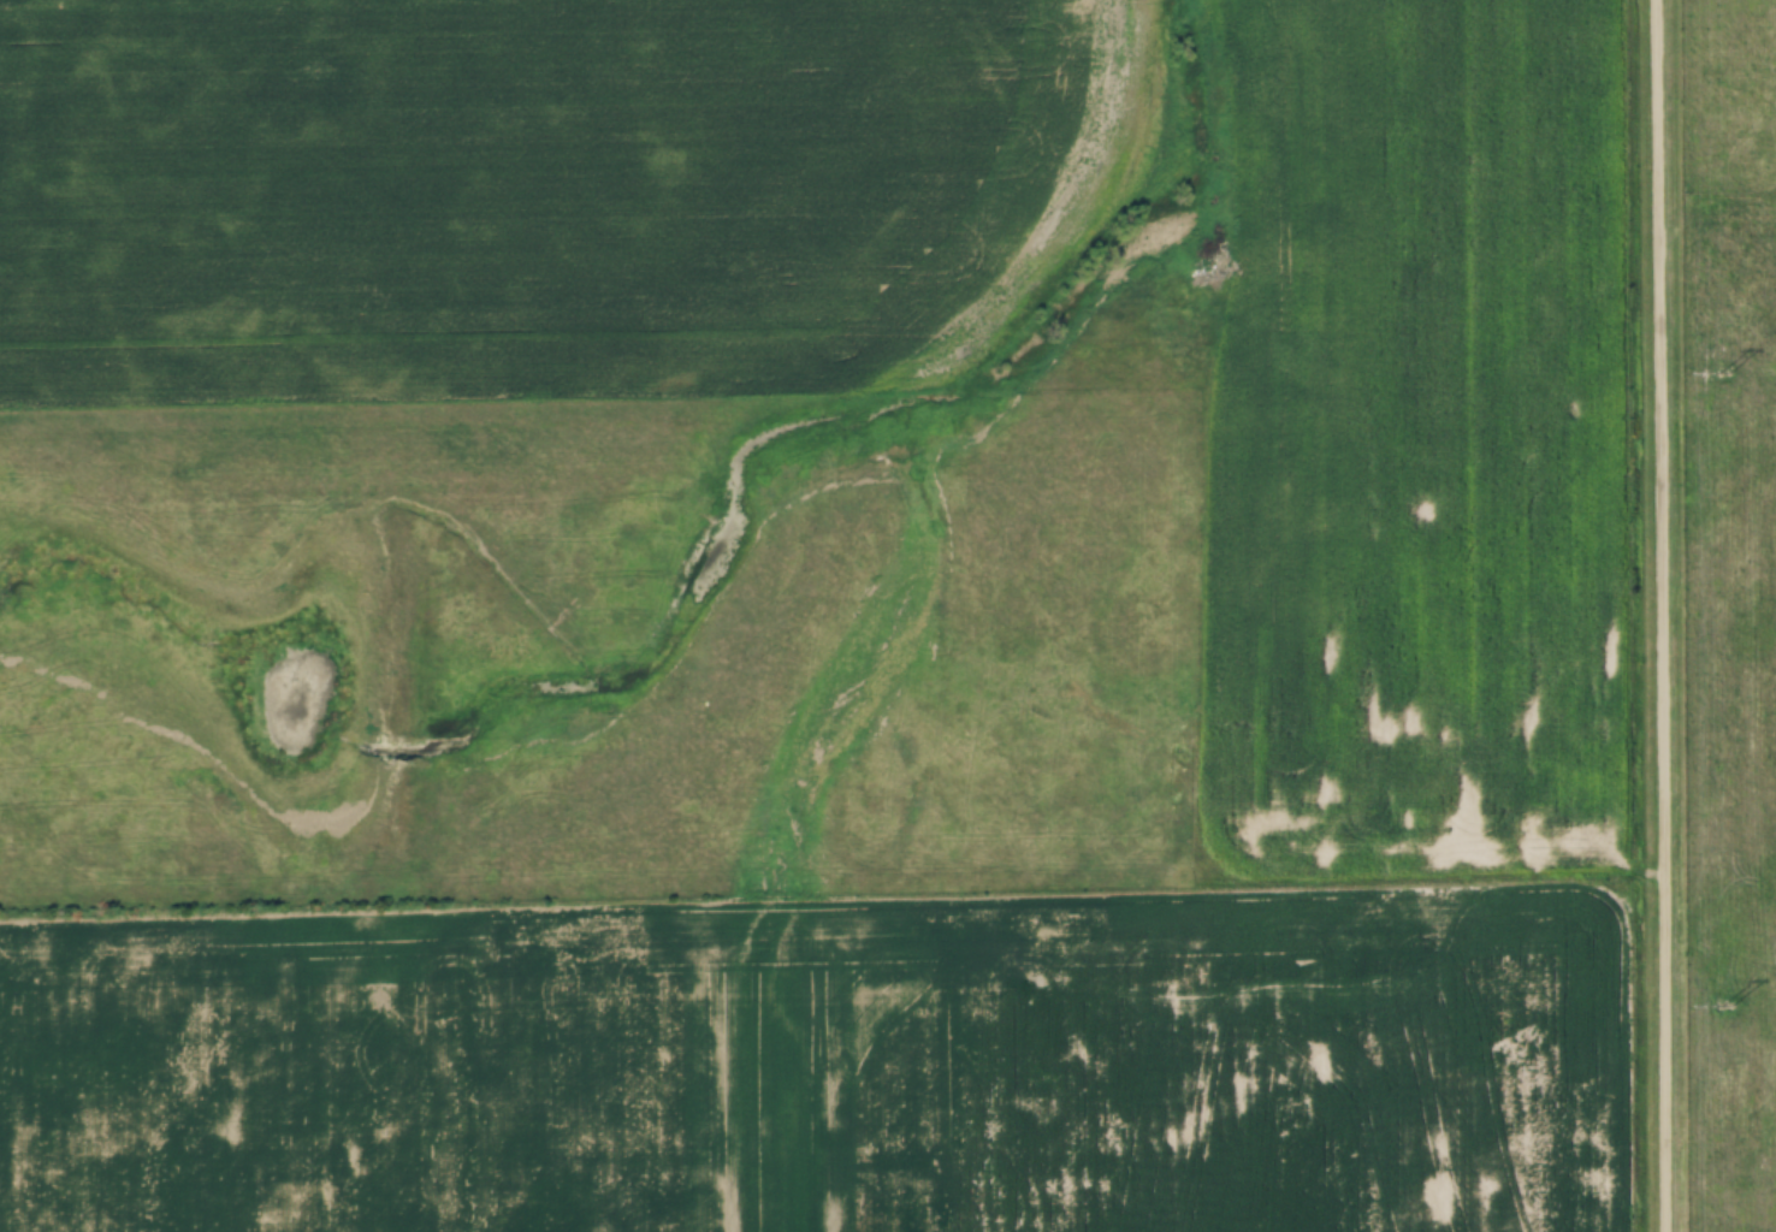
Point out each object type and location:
power tower: (1722, 374)
road: (1667, 615)
power tower: (1727, 1008)

